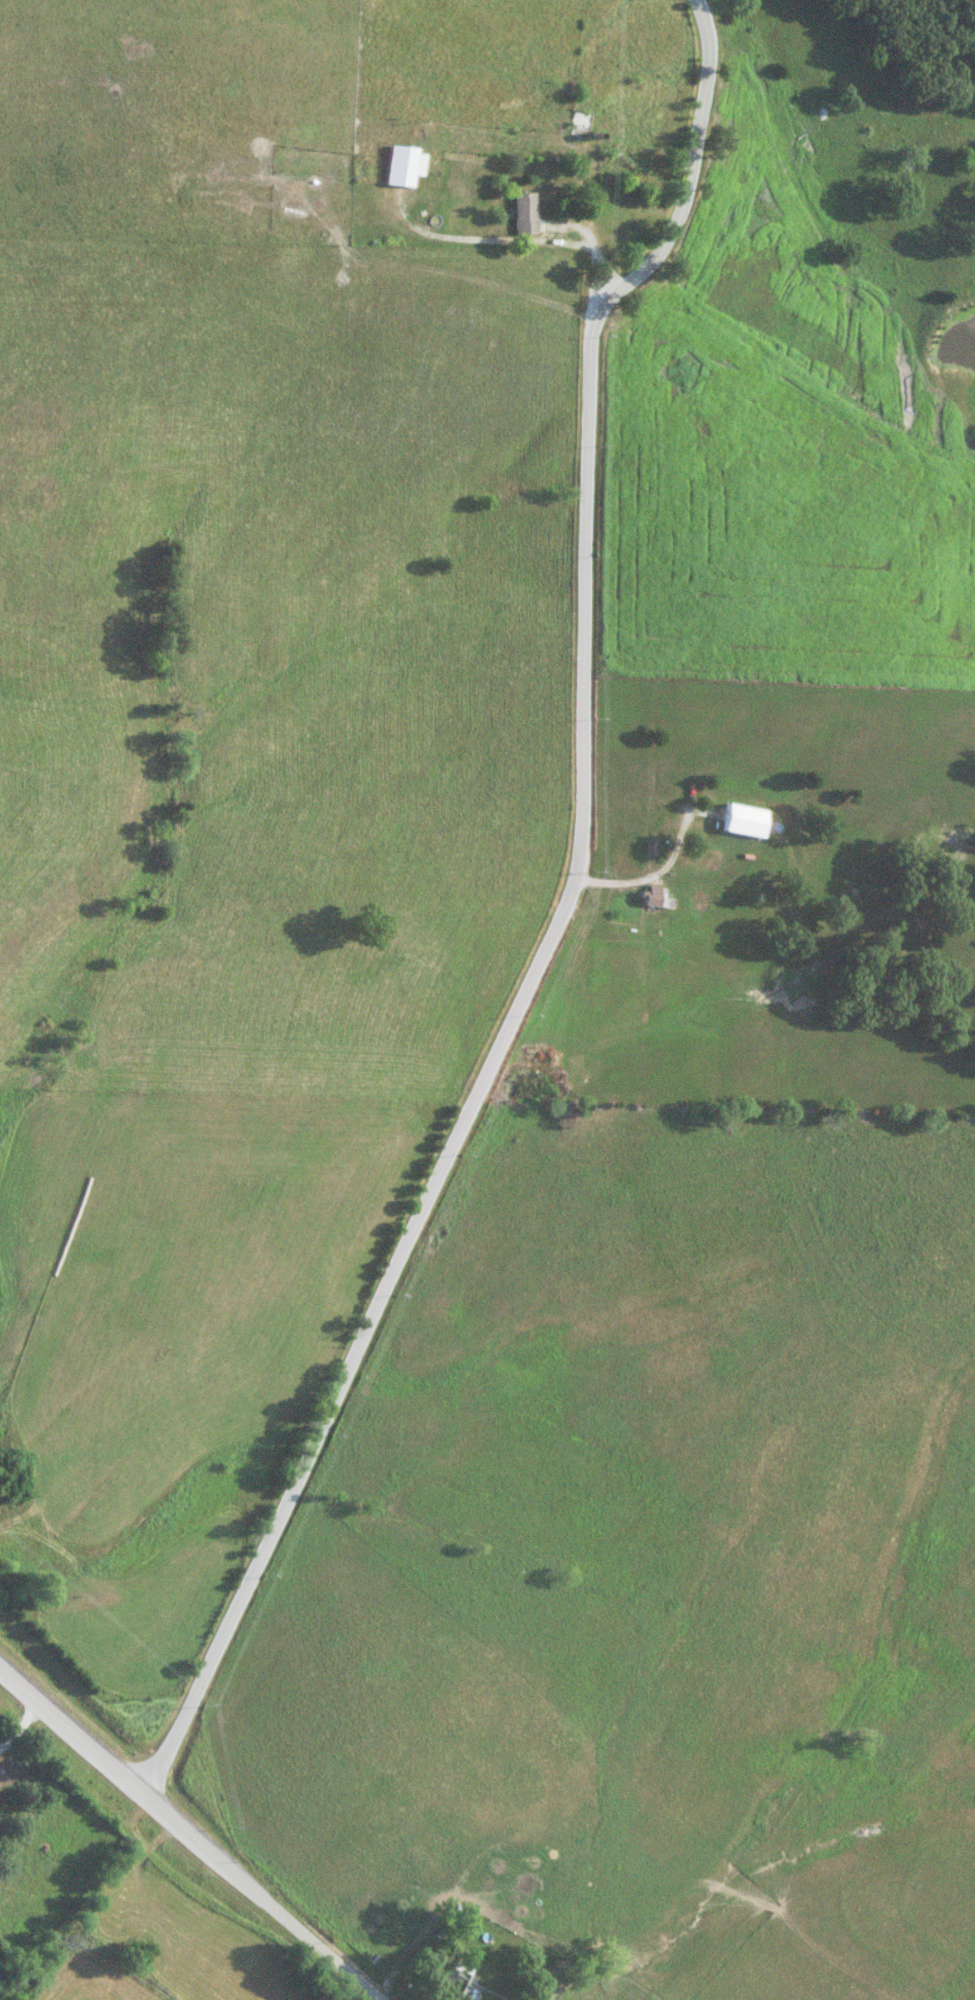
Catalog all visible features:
building: (574, 126)
building: (398, 166)
building: (519, 214)
road: (514, 239)
building: (743, 820)
building: (702, 860)
building: (653, 896)
road: (562, 924)
road: (21, 1725)
road: (189, 1831)
building: (451, 1979)

